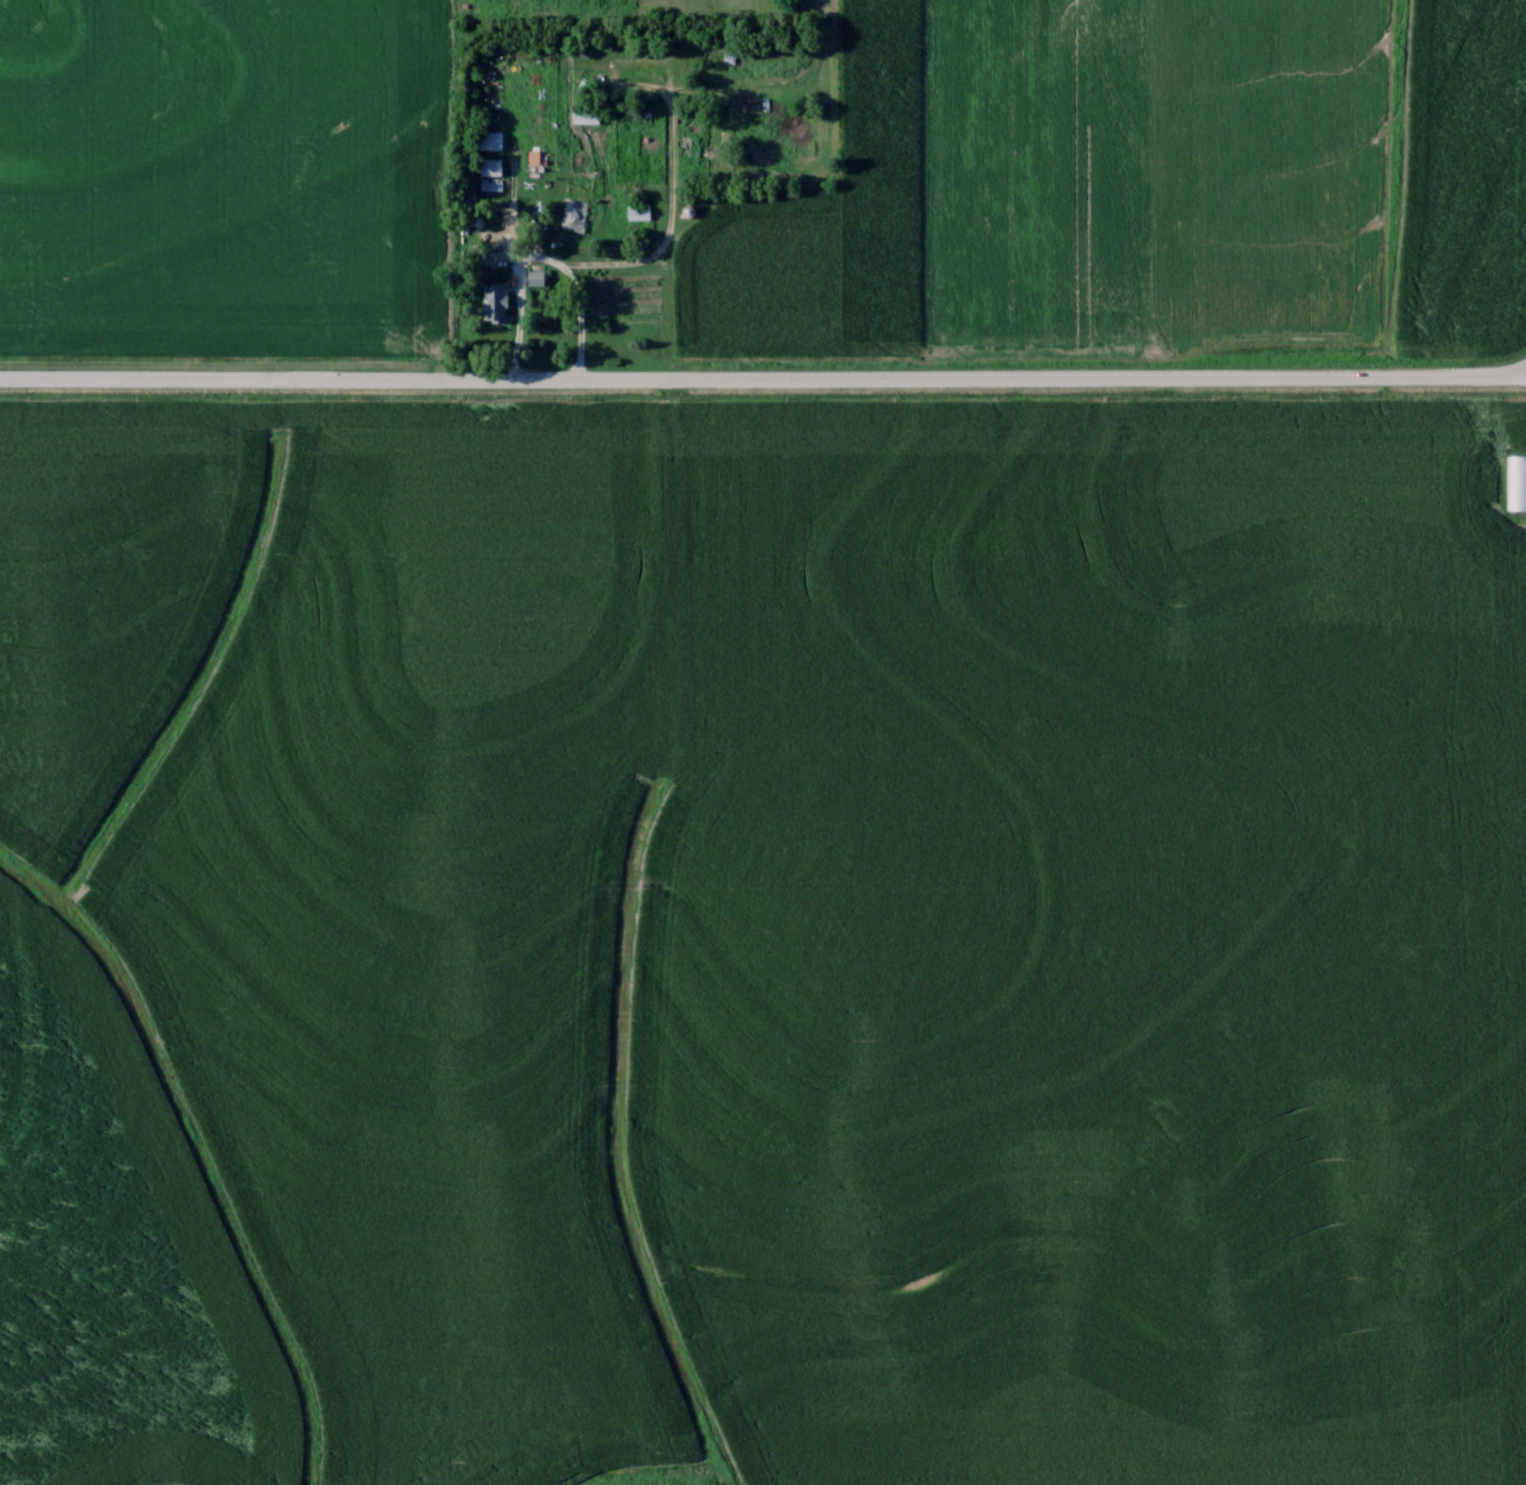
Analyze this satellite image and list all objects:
building: (585, 115)
building: (578, 203)
building: (689, 210)
building: (638, 211)
road: (542, 254)
building: (537, 276)
building: (495, 301)
road: (1507, 371)
road: (743, 377)
building: (1515, 481)

